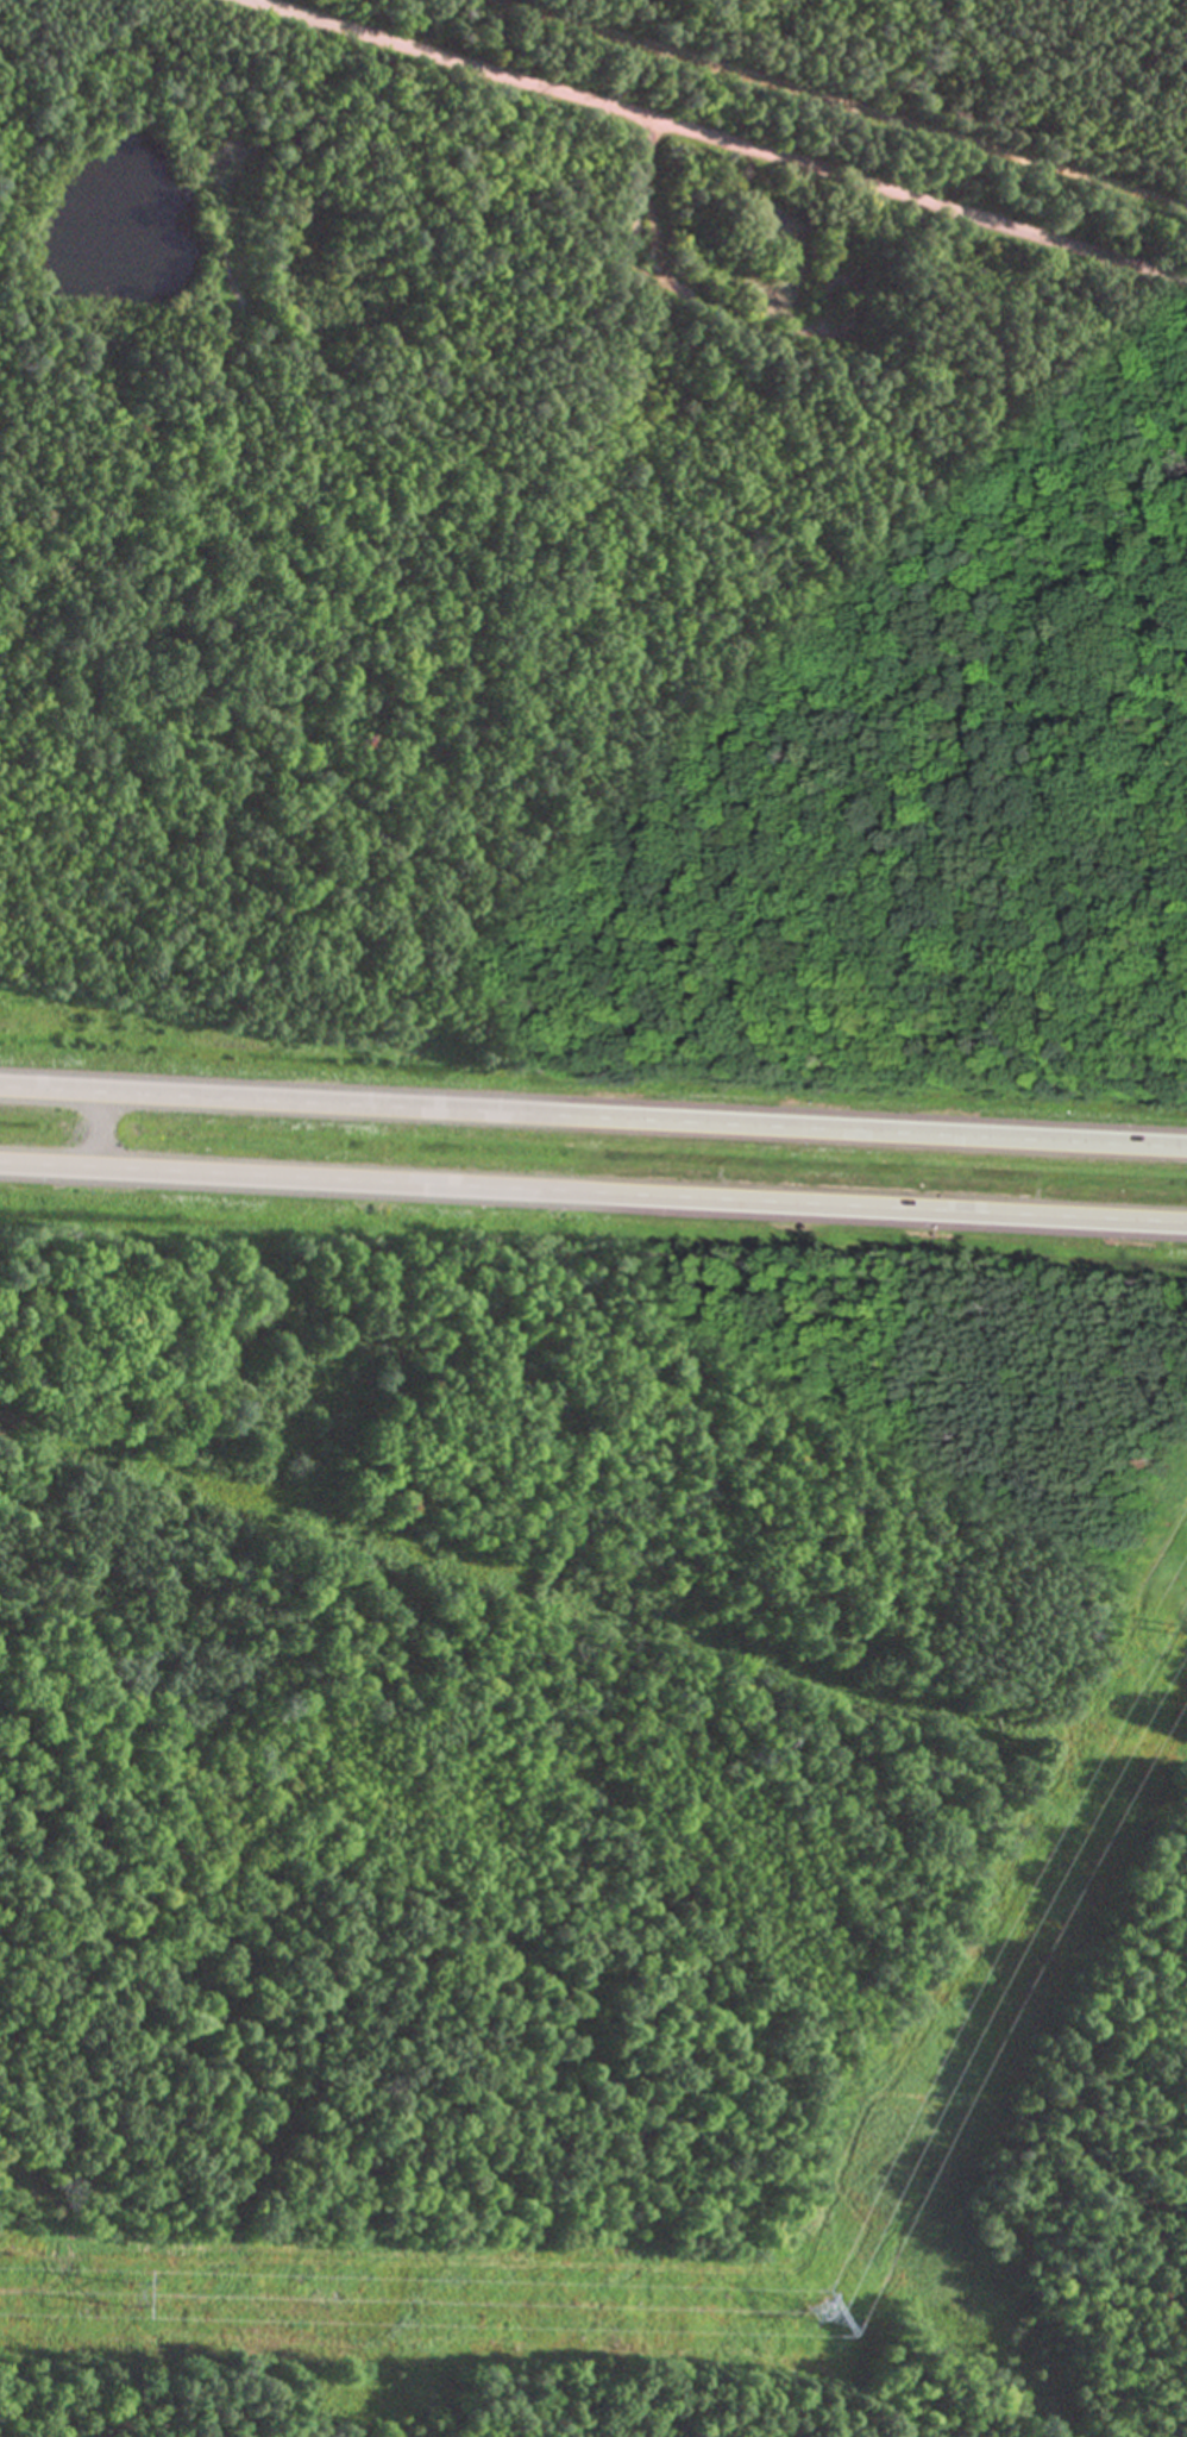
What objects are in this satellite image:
road: (834, 106)
road: (720, 139)
park: (425, 564)
road: (593, 1114)
road: (96, 1127)
road: (592, 1192)

